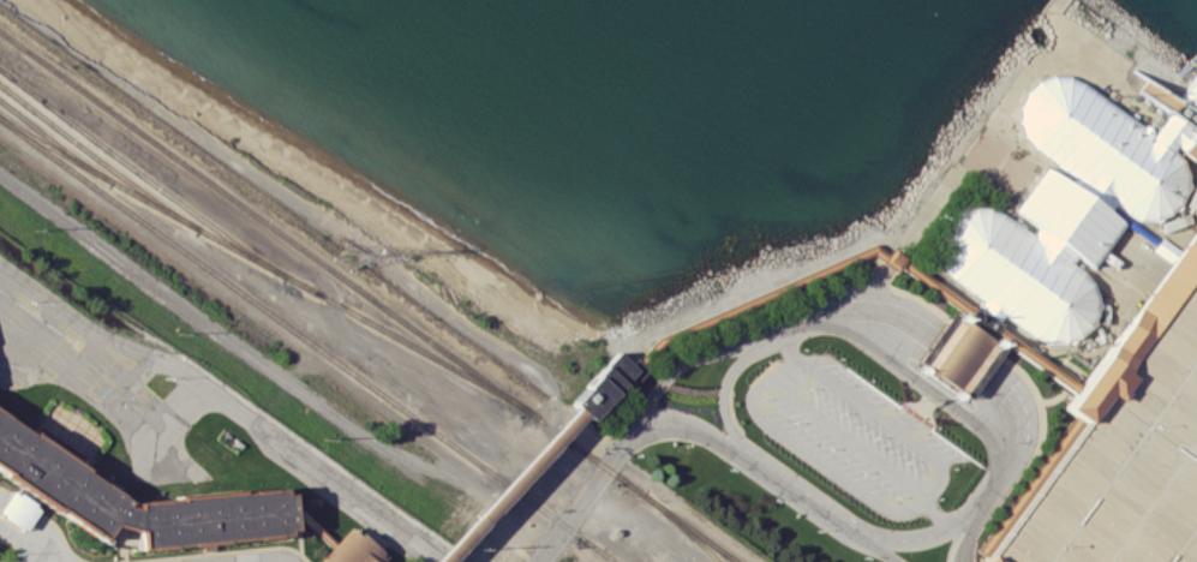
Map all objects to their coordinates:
pier: (1192, 96)
railway: (55, 142)
railway: (98, 157)
railway: (142, 173)
road: (325, 220)
railway: (323, 261)
railway: (265, 263)
railway: (309, 339)
road: (724, 400)
road: (1017, 426)
building: (1125, 462)
parking garage: (1125, 462)
building: (56, 479)
road: (516, 488)
road: (586, 498)
building: (18, 510)
railway: (684, 526)
railway: (693, 527)
road: (969, 534)
road: (25, 545)
road: (876, 546)
building: (351, 550)
road: (37, 557)
road: (276, 561)

